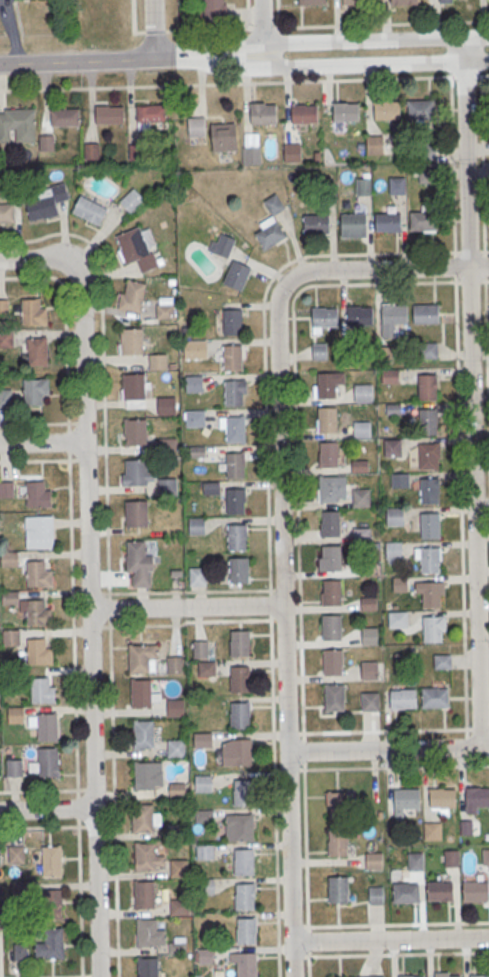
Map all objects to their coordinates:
building: (355, 1)
building: (451, 1)
building: (311, 2)
building: (404, 3)
road: (276, 6)
building: (215, 11)
road: (247, 14)
road: (482, 19)
road: (132, 21)
road: (264, 24)
road: (381, 24)
road: (264, 27)
road: (155, 28)
road: (209, 29)
road: (11, 31)
road: (154, 31)
road: (322, 43)
road: (262, 60)
road: (78, 61)
road: (322, 68)
road: (244, 82)
building: (387, 111)
building: (420, 111)
building: (346, 113)
building: (151, 114)
building: (264, 115)
building: (305, 115)
building: (110, 116)
building: (65, 118)
building: (18, 126)
building: (196, 126)
building: (223, 137)
building: (47, 144)
building: (374, 146)
building: (428, 151)
building: (92, 152)
building: (136, 153)
building: (292, 153)
building: (252, 157)
building: (427, 177)
building: (12, 184)
building: (397, 186)
building: (363, 188)
building: (131, 201)
building: (47, 204)
building: (90, 212)
building: (6, 214)
building: (423, 222)
building: (389, 224)
building: (316, 225)
building: (354, 226)
building: (269, 233)
building: (221, 244)
building: (137, 248)
road: (488, 252)
road: (354, 254)
road: (37, 261)
road: (478, 267)
building: (236, 275)
road: (13, 277)
building: (133, 297)
building: (4, 308)
building: (163, 311)
building: (32, 312)
building: (425, 315)
building: (360, 316)
building: (396, 316)
building: (325, 318)
building: (234, 323)
building: (6, 340)
building: (133, 343)
building: (195, 349)
building: (37, 351)
building: (319, 351)
building: (429, 351)
building: (233, 359)
building: (157, 362)
building: (194, 383)
building: (328, 383)
building: (133, 386)
building: (427, 387)
building: (32, 392)
road: (471, 393)
building: (234, 394)
building: (363, 394)
building: (6, 399)
building: (164, 406)
building: (393, 409)
building: (194, 418)
building: (326, 419)
building: (426, 421)
road: (53, 424)
building: (362, 429)
building: (235, 430)
building: (135, 432)
road: (43, 444)
building: (167, 445)
building: (393, 449)
building: (197, 451)
building: (328, 454)
building: (428, 456)
road: (35, 462)
building: (236, 466)
building: (360, 467)
building: (135, 471)
building: (400, 481)
building: (165, 487)
building: (332, 489)
building: (6, 491)
building: (429, 491)
building: (38, 496)
building: (361, 499)
building: (237, 502)
building: (135, 513)
building: (395, 517)
building: (196, 525)
building: (331, 525)
building: (429, 525)
building: (40, 533)
road: (281, 536)
building: (362, 536)
building: (237, 538)
building: (377, 547)
building: (394, 550)
building: (135, 558)
building: (330, 558)
road: (107, 559)
building: (10, 560)
building: (430, 562)
building: (368, 570)
building: (240, 572)
building: (39, 575)
building: (197, 577)
building: (400, 585)
building: (330, 592)
building: (431, 594)
building: (10, 599)
building: (369, 605)
road: (232, 606)
road: (137, 609)
building: (38, 614)
building: (398, 621)
road: (92, 622)
road: (74, 626)
building: (331, 627)
building: (433, 629)
building: (370, 637)
building: (12, 639)
building: (239, 644)
building: (199, 648)
building: (39, 653)
building: (139, 660)
building: (332, 662)
building: (442, 663)
building: (174, 664)
building: (206, 667)
building: (370, 671)
building: (240, 679)
building: (42, 692)
building: (141, 695)
building: (334, 697)
building: (435, 699)
building: (403, 700)
building: (369, 703)
building: (174, 707)
building: (16, 716)
building: (239, 716)
building: (48, 729)
road: (395, 730)
building: (143, 736)
building: (202, 740)
building: (175, 748)
road: (380, 750)
building: (241, 752)
building: (49, 764)
road: (387, 767)
building: (15, 769)
building: (145, 778)
building: (203, 783)
building: (175, 789)
building: (243, 793)
building: (477, 797)
building: (406, 798)
building: (441, 798)
building: (335, 804)
road: (78, 809)
road: (48, 810)
building: (203, 815)
building: (143, 820)
building: (242, 827)
building: (465, 827)
building: (433, 833)
building: (337, 843)
building: (205, 852)
road: (306, 855)
building: (17, 856)
building: (145, 858)
building: (486, 858)
building: (451, 859)
building: (53, 862)
building: (243, 862)
building: (374, 862)
building: (416, 863)
building: (178, 868)
building: (208, 886)
building: (337, 889)
building: (26, 890)
building: (439, 891)
building: (475, 891)
building: (405, 893)
building: (0, 894)
building: (375, 894)
building: (145, 896)
building: (244, 896)
road: (80, 902)
building: (52, 903)
building: (179, 907)
building: (1, 922)
road: (390, 924)
building: (246, 931)
building: (148, 935)
road: (389, 940)
building: (54, 944)
building: (21, 953)
road: (390, 954)
building: (205, 956)
building: (246, 965)
building: (147, 967)
building: (442, 974)
building: (375, 976)
building: (414, 976)
building: (482, 976)

